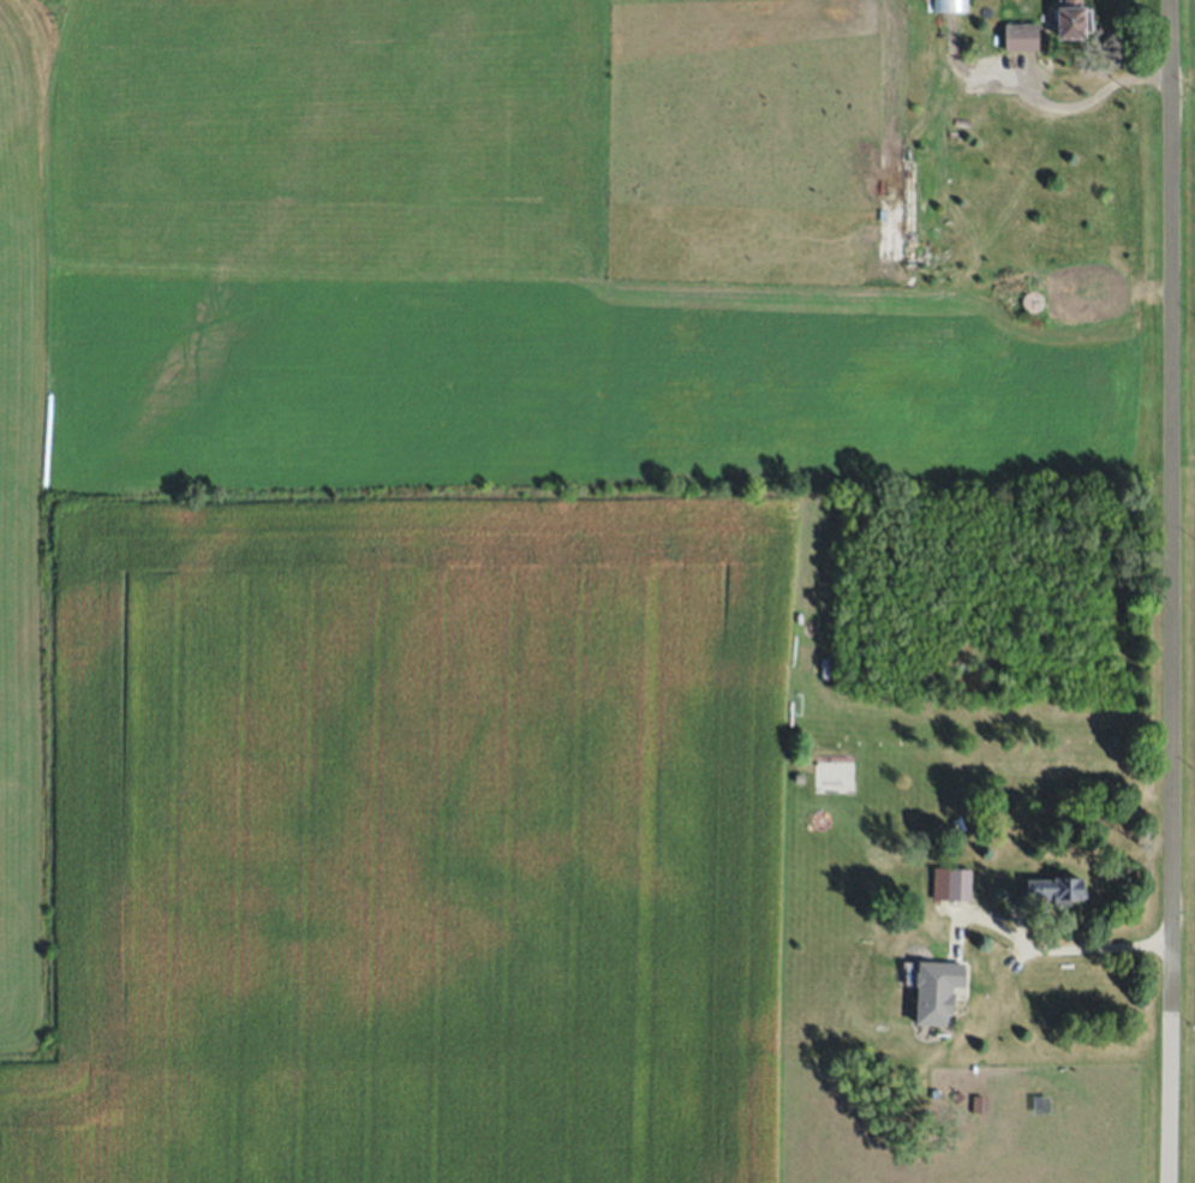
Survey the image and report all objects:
building: (950, 6)
building: (1072, 19)
building: (1021, 35)
road: (1064, 104)
road: (1172, 591)
building: (958, 883)
building: (1054, 888)
road: (1060, 946)
building: (937, 992)

